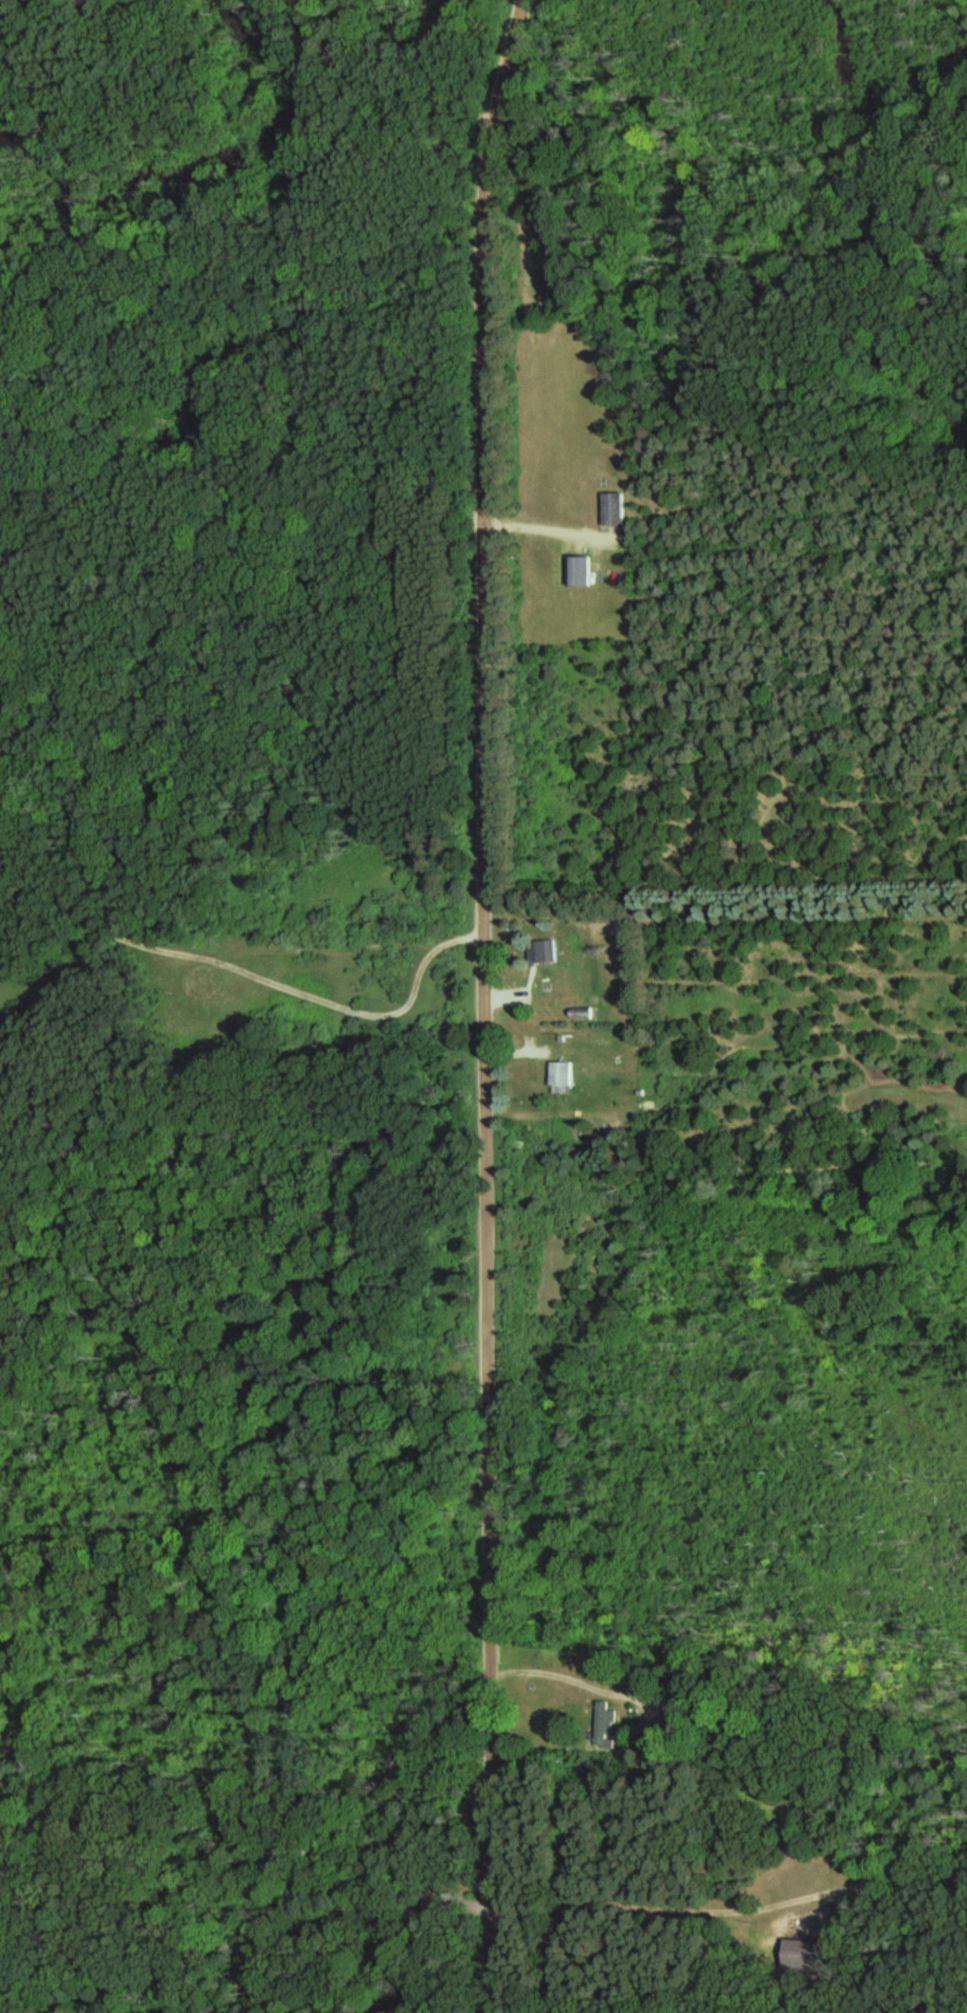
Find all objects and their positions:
building: (612, 510)
road: (537, 529)
building: (579, 572)
road: (480, 884)
road: (240, 943)
building: (550, 952)
building: (566, 1073)
road: (544, 1671)
building: (607, 1716)
road: (489, 1894)
road: (729, 1908)
building: (800, 1954)
road: (287, 1965)

